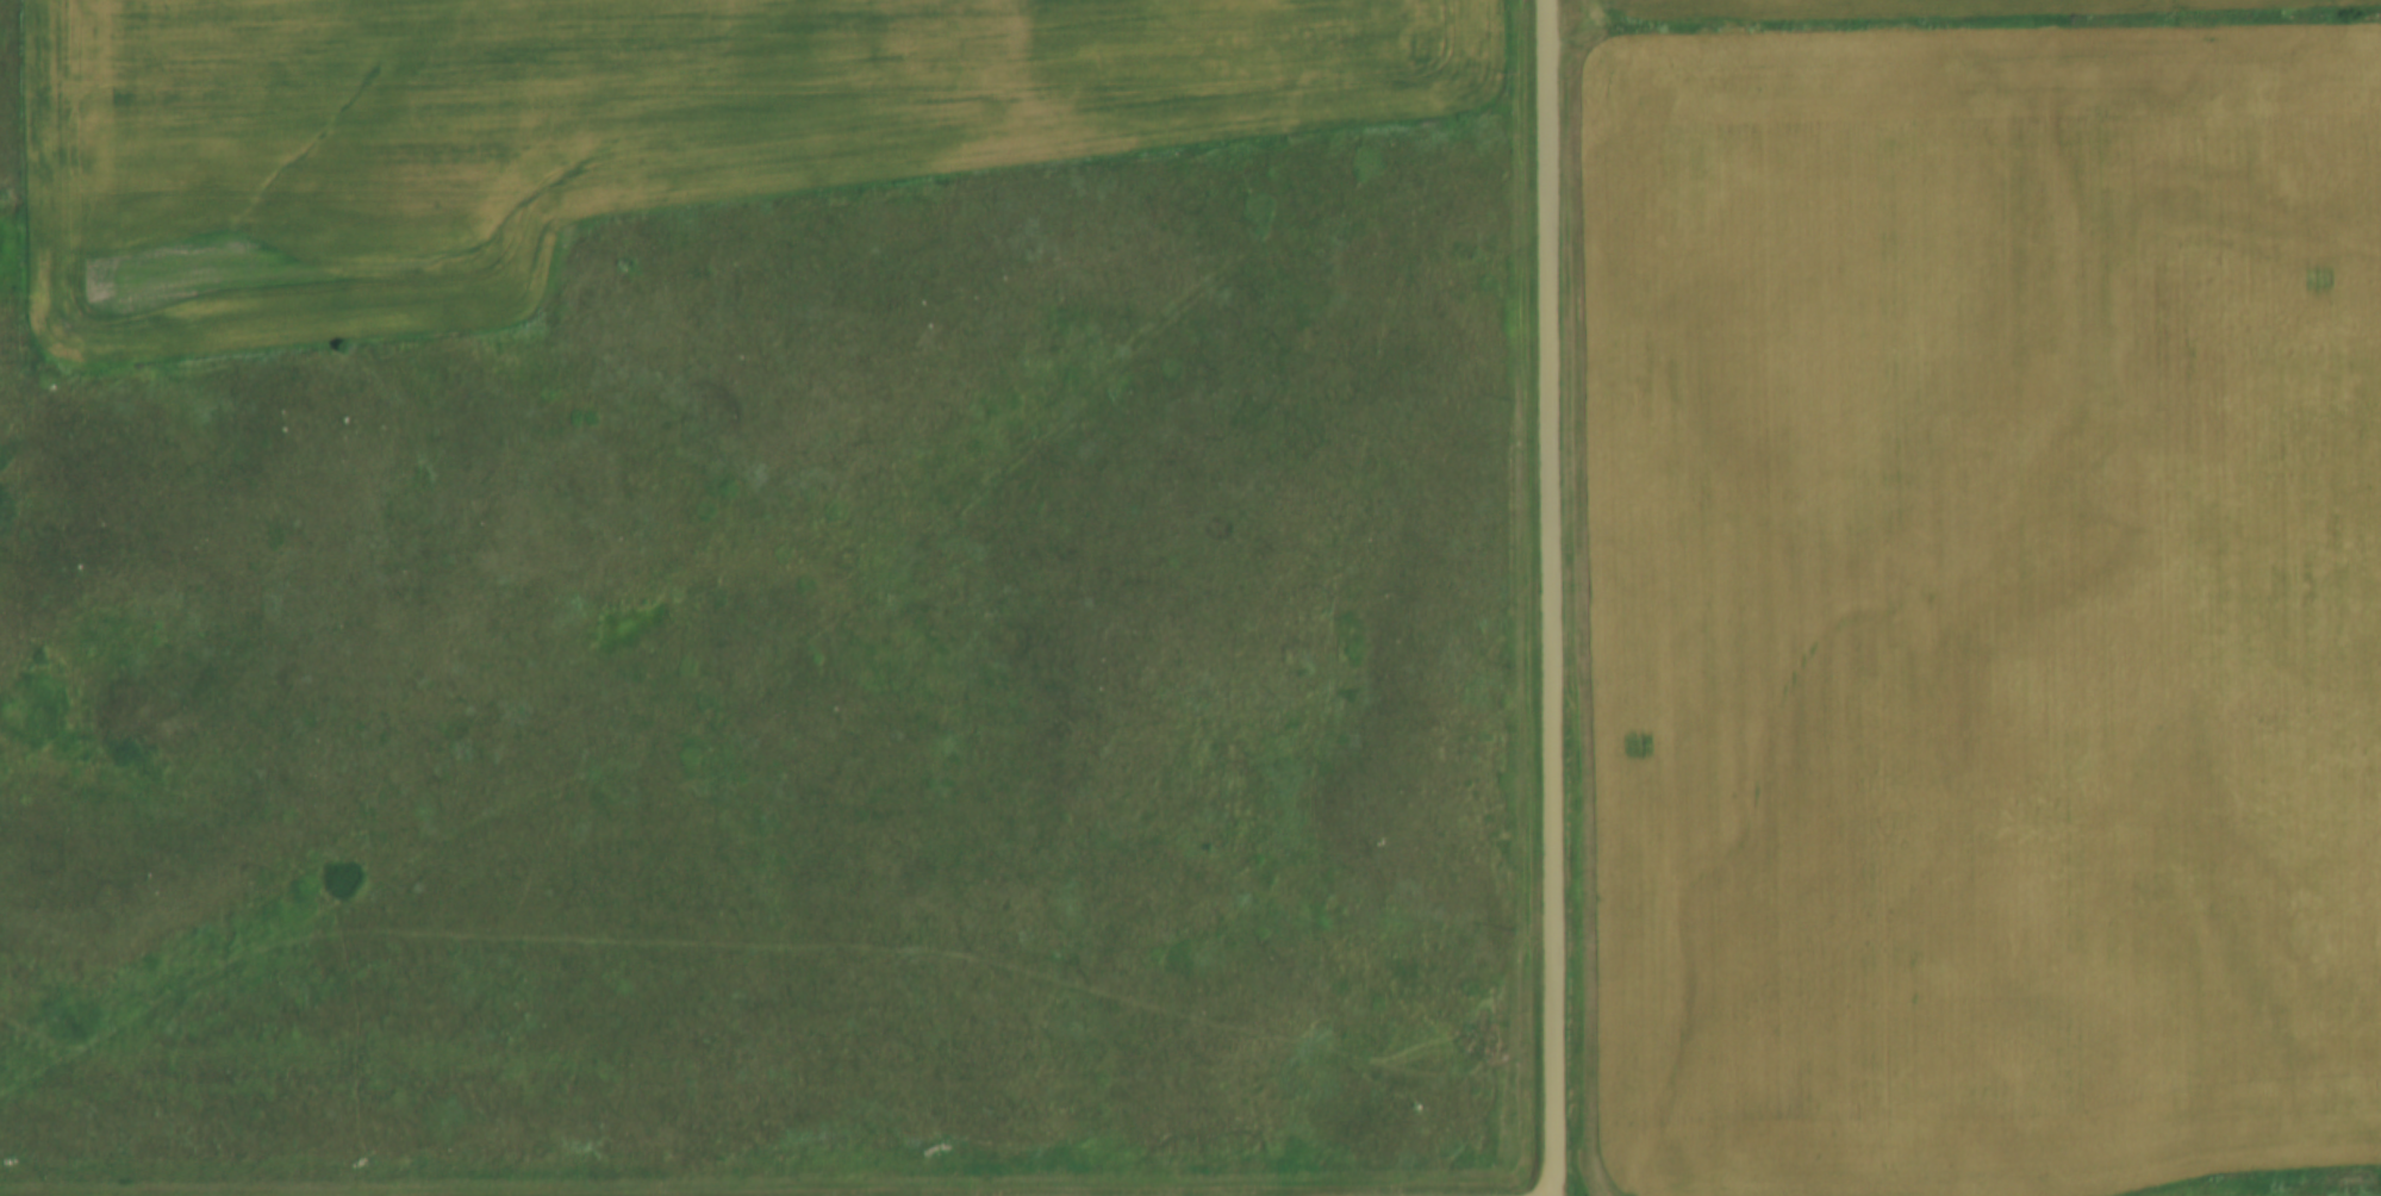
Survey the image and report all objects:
road: (1564, 597)

